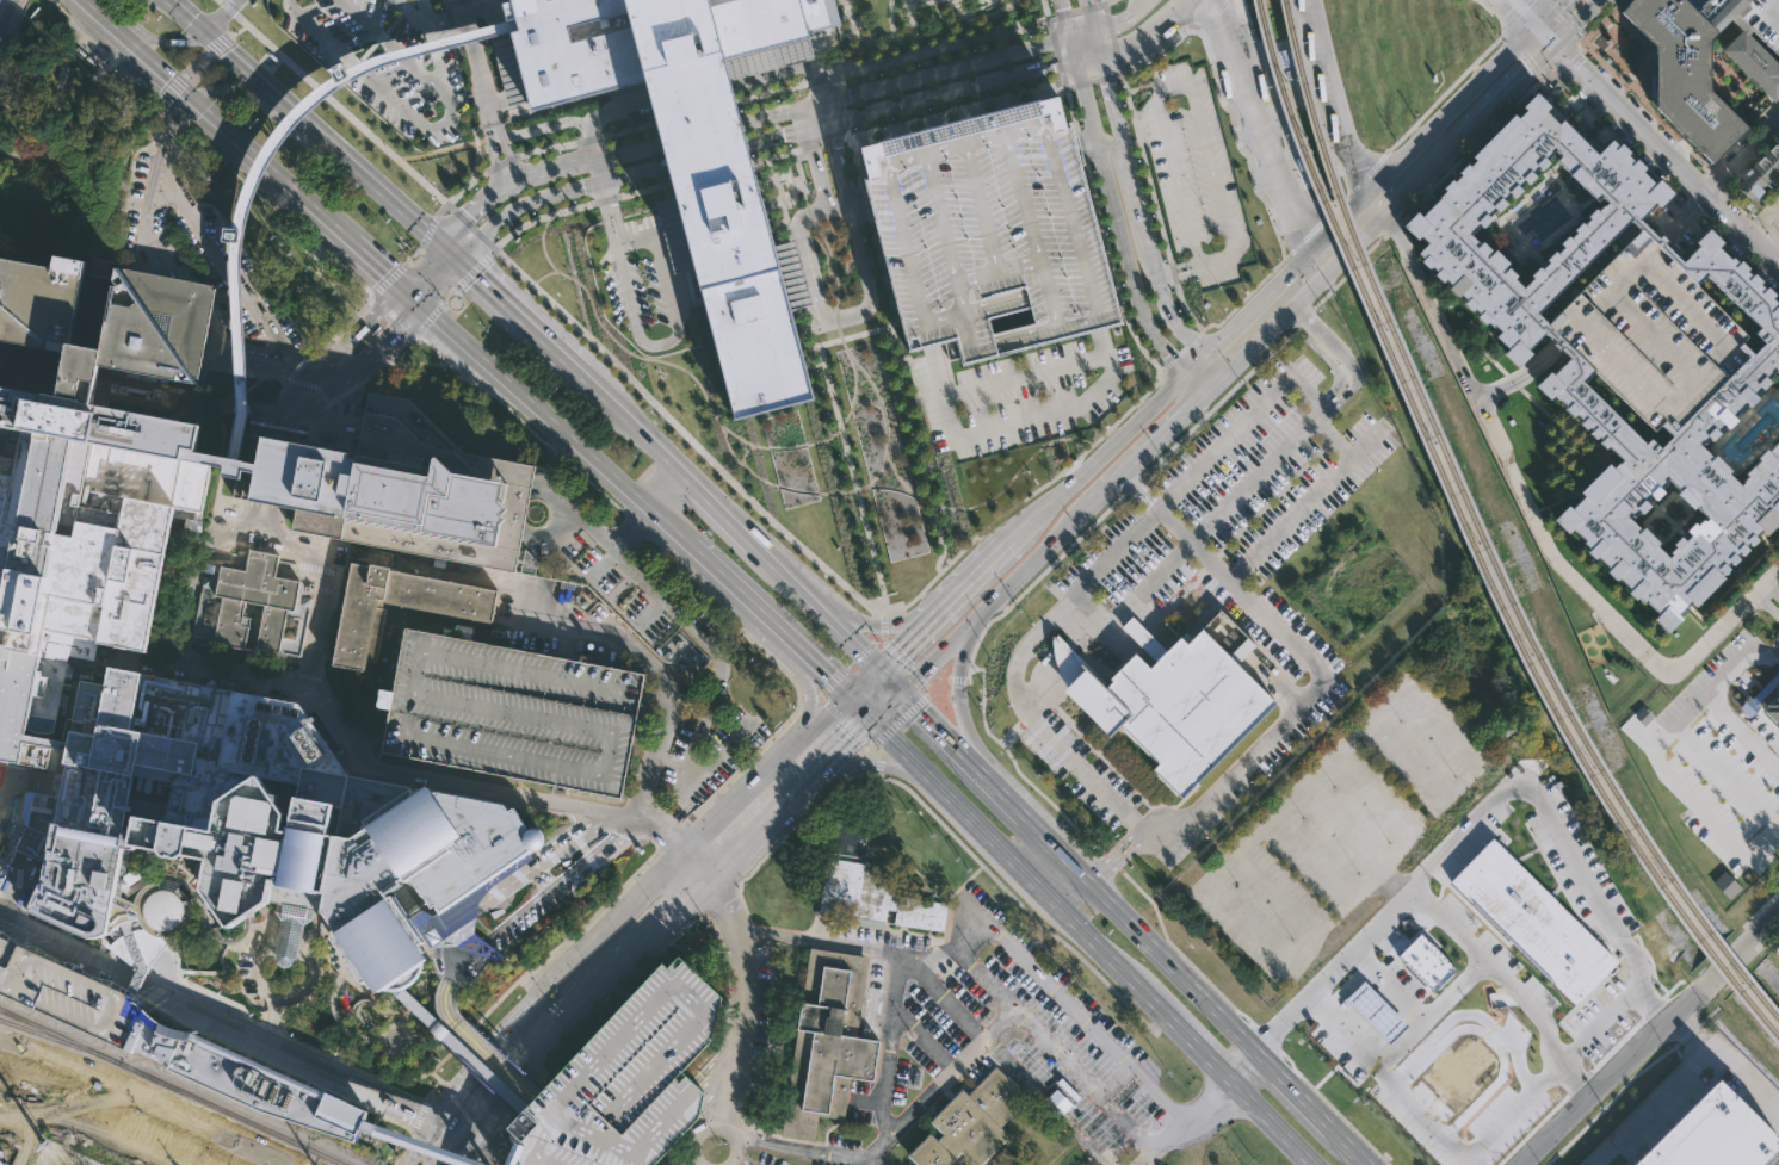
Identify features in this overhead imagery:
road: (1104, 1)
road: (1108, 1)
road: (1180, 6)
road: (5, 7)
road: (1045, 8)
road: (1075, 10)
road: (1494, 10)
traffic signals: (88, 12)
road: (1204, 13)
road: (1517, 13)
road: (410, 14)
road: (1086, 16)
road: (222, 17)
road: (1063, 18)
road: (1526, 18)
road: (1562, 18)
road: (1122, 19)
road: (1596, 19)
building: (1762, 19)
parking garage: (1762, 19)
road: (1561, 20)
road: (446, 21)
traffic signals: (206, 33)
road: (1080, 33)
road: (146, 36)
traffic signals: (1545, 37)
building: (653, 38)
road: (1113, 38)
road: (1138, 39)
road: (13, 41)
road: (1094, 43)
road: (829, 45)
road: (394, 48)
road: (938, 48)
road: (505, 49)
road: (1055, 49)
road: (1071, 49)
road: (1524, 51)
road: (767, 52)
road: (231, 57)
road: (512, 57)
road: (1086, 58)
road: (1562, 60)
road: (196, 61)
parking lot: (388, 61)
road: (475, 66)
building: (1700, 66)
road: (787, 69)
road: (945, 69)
road: (686, 73)
road: (816, 79)
road: (1094, 81)
road: (111, 83)
road: (1186, 85)
road: (1315, 86)
road: (1447, 88)
road: (770, 89)
road: (245, 92)
road: (1273, 92)
road: (692, 93)
road: (950, 93)
road: (1296, 95)
road: (1108, 98)
road: (586, 99)
road: (332, 101)
road: (1222, 103)
road: (809, 105)
road: (1332, 105)
road: (839, 106)
road: (1647, 107)
road: (956, 109)
road: (697, 111)
road: (616, 112)
road: (823, 113)
road: (410, 116)
road: (770, 116)
road: (168, 117)
road: (514, 118)
road: (801, 119)
road: (1458, 120)
road: (492, 123)
road: (548, 125)
road: (815, 128)
road: (629, 129)
road: (1259, 131)
road: (167, 132)
road: (492, 132)
road: (702, 132)
road: (51, 135)
road: (1617, 135)
building: (703, 137)
road: (776, 137)
road: (586, 140)
road: (823, 142)
road: (235, 143)
road: (1108, 144)
road: (544, 147)
road: (592, 147)
road: (1469, 147)
road: (629, 151)
road: (476, 153)
road: (1661, 153)
road: (708, 154)
road: (777, 156)
road: (1742, 159)
road: (504, 162)
road: (258, 163)
road: (1145, 168)
road: (814, 169)
road: (599, 171)
road: (635, 173)
road: (712, 173)
building: (1760, 173)
parking lot: (1193, 174)
road: (367, 178)
road: (508, 184)
road: (467, 185)
road: (1717, 185)
road: (645, 188)
road: (606, 199)
road: (846, 203)
road: (267, 204)
road: (521, 204)
road: (1335, 204)
road: (1737, 207)
building: (637, 209)
road: (1691, 209)
road: (1137, 210)
traffic signals: (469, 212)
road: (610, 213)
road: (124, 215)
road: (539, 217)
road: (1390, 217)
road: (1685, 217)
road: (1761, 217)
road: (152, 225)
road: (469, 225)
road: (1394, 227)
road: (1766, 228)
building: (990, 229)
parking garage: (990, 229)
road: (1101, 230)
road: (1347, 231)
road: (1119, 237)
road: (1772, 249)
road: (450, 250)
road: (415, 254)
road: (1738, 255)
road: (124, 259)
road: (661, 262)
road: (228, 265)
road: (418, 265)
road: (1347, 272)
road: (543, 273)
road: (1173, 273)
road: (1176, 274)
traffic signals: (382, 275)
traffic signals: (477, 278)
road: (1296, 283)
road: (439, 284)
road: (365, 287)
building: (1701, 287)
building: (742, 289)
road: (455, 290)
road: (1612, 292)
road: (1243, 297)
road: (190, 298)
road: (407, 298)
building: (55, 300)
road: (867, 300)
road: (1184, 309)
road: (166, 315)
road: (393, 315)
road: (634, 318)
road: (1303, 318)
road: (356, 329)
traffic signals: (393, 330)
road: (336, 331)
road: (1180, 331)
building: (1651, 333)
parking garage: (1651, 333)
road: (416, 335)
road: (819, 345)
road: (1252, 345)
road: (373, 347)
road: (625, 348)
road: (1181, 349)
road: (236, 352)
building: (1761, 360)
road: (298, 367)
road: (296, 368)
road: (1161, 370)
road: (240, 372)
road: (1520, 377)
road: (854, 379)
road: (323, 380)
road: (309, 384)
road: (476, 384)
road: (1212, 384)
road: (297, 390)
parking lot: (1017, 391)
road: (865, 398)
road: (877, 399)
road: (1217, 401)
road: (311, 405)
road: (632, 422)
road: (1141, 423)
road: (280, 425)
road: (552, 426)
road: (1332, 439)
road: (813, 442)
road: (918, 450)
road: (1143, 450)
road: (743, 452)
road: (1505, 459)
building: (224, 464)
road: (271, 470)
road: (1198, 472)
road: (876, 475)
road: (896, 476)
road: (773, 484)
road: (1131, 484)
building: (394, 488)
building: (91, 491)
road: (674, 497)
road: (986, 500)
road: (994, 502)
road: (1304, 507)
road: (262, 514)
road: (636, 525)
railway: (1481, 534)
railway: (1471, 543)
road: (1032, 557)
road: (820, 563)
road: (988, 566)
road: (192, 575)
road: (725, 580)
road: (1033, 580)
road: (1732, 582)
road: (326, 589)
road: (1768, 597)
building: (245, 603)
building: (464, 611)
road: (1117, 618)
road: (1723, 620)
road: (881, 624)
road: (883, 625)
road: (784, 632)
road: (852, 639)
road: (630, 645)
road: (908, 645)
road: (940, 651)
traffic signals: (902, 652)
road: (146, 659)
road: (1310, 662)
road: (904, 664)
road: (1658, 664)
road: (850, 668)
road: (790, 673)
road: (828, 674)
road: (240, 675)
traffic signals: (830, 676)
road: (1716, 692)
road: (809, 696)
building: (1172, 696)
road: (654, 699)
road: (810, 701)
road: (960, 701)
road: (888, 704)
road: (915, 704)
road: (863, 707)
traffic signals: (921, 711)
building: (511, 712)
parking garage: (511, 712)
road: (1427, 717)
road: (845, 721)
road: (824, 724)
road: (364, 729)
road: (947, 738)
traffic signals: (851, 740)
road: (847, 743)
road: (877, 766)
road: (1015, 768)
road: (1416, 771)
road: (444, 782)
building: (1777, 799)
road: (5, 800)
road: (1008, 804)
road: (1383, 805)
road: (765, 824)
road: (940, 824)
building: (249, 825)
building: (850, 826)
road: (672, 836)
road: (1352, 836)
road: (609, 842)
road: (1452, 843)
road: (1056, 851)
road: (1011, 856)
road: (1113, 861)
road: (697, 867)
road: (1321, 867)
road: (1076, 896)
building: (876, 897)
road: (717, 900)
road: (1287, 904)
road: (8, 909)
building: (1533, 913)
road: (609, 927)
road: (1760, 929)
road: (753, 931)
road: (863, 947)
building: (1775, 950)
road: (110, 952)
road: (1734, 955)
road: (1173, 968)
road: (1713, 975)
road: (253, 981)
road: (622, 989)
road: (162, 993)
building: (66, 994)
parking garage: (66, 994)
road: (278, 999)
road: (585, 1000)
road: (743, 1000)
building: (420, 1018)
road: (1248, 1020)
road: (218, 1023)
road: (1082, 1023)
road: (203, 1035)
building: (1612, 1036)
road: (925, 1037)
road: (1191, 1037)
building: (828, 1041)
road: (472, 1045)
road: (980, 1045)
road: (459, 1048)
road: (444, 1056)
road: (716, 1059)
road: (888, 1059)
road: (1002, 1059)
road: (1246, 1067)
road: (718, 1068)
road: (1612, 1076)
road: (436, 1077)
building: (243, 1078)
building: (625, 1080)
parking lot: (625, 1080)
road: (1741, 1086)
railway: (172, 1087)
road: (431, 1087)
road: (717, 1091)
road: (1662, 1091)
road: (1296, 1092)
road: (1097, 1095)
road: (761, 1096)
railway: (154, 1097)
road: (1210, 1101)
road: (472, 1107)
road: (419, 1115)
traffic signals: (440, 1120)
road: (1275, 1122)
building: (971, 1123)
road: (455, 1126)
road: (714, 1127)
traffic signals: (469, 1132)
road: (519, 1133)
building: (1719, 1134)
road: (490, 1136)
road: (421, 1141)
road: (483, 1141)
road: (487, 1145)
road: (415, 1146)
road: (438, 1146)
road: (453, 1147)
road: (1352, 1147)
road: (805, 1149)
road: (480, 1153)
road: (1147, 1154)
power substation: (60, 1155)
road: (462, 1160)
road: (1774, 1160)
road: (737, 1161)

